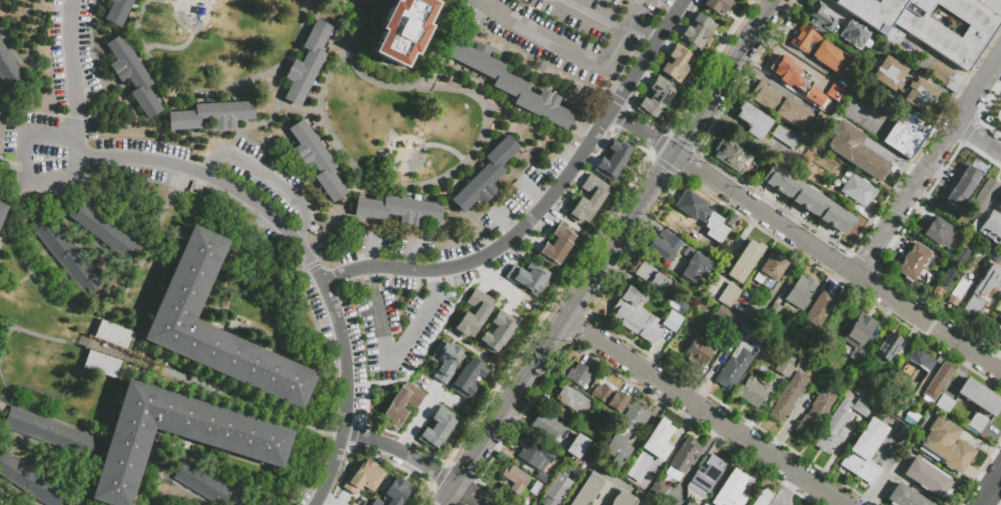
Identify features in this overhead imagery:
road: (458, 1)
road: (165, 2)
parking lot: (666, 2)
building: (716, 5)
building: (992, 6)
road: (631, 10)
building: (117, 11)
building: (871, 11)
road: (363, 16)
road: (590, 16)
building: (818, 16)
road: (623, 26)
building: (403, 29)
parking lot: (568, 30)
road: (642, 30)
building: (697, 31)
building: (926, 31)
building: (853, 34)
building: (893, 37)
parking lot: (802, 38)
road: (558, 43)
road: (90, 44)
road: (170, 47)
building: (817, 48)
road: (794, 49)
road: (787, 54)
parking lot: (834, 57)
road: (541, 59)
building: (677, 62)
road: (38, 65)
building: (304, 65)
building: (10, 68)
building: (933, 68)
road: (328, 74)
road: (73, 76)
building: (131, 76)
building: (796, 77)
parking lot: (820, 78)
road: (395, 81)
road: (182, 82)
building: (509, 82)
building: (954, 82)
building: (903, 84)
road: (278, 88)
building: (832, 91)
road: (979, 91)
building: (655, 97)
building: (780, 105)
road: (624, 109)
road: (0, 110)
building: (0, 113)
building: (822, 115)
building: (994, 115)
building: (208, 116)
road: (1, 119)
building: (753, 120)
road: (653, 122)
parking lot: (81, 124)
road: (640, 130)
road: (153, 133)
building: (905, 133)
building: (786, 137)
road: (1, 138)
road: (979, 140)
parking lot: (570, 143)
road: (445, 147)
road: (638, 147)
building: (855, 150)
building: (731, 153)
building: (314, 159)
building: (612, 161)
road: (26, 164)
building: (836, 172)
building: (972, 173)
building: (485, 175)
road: (272, 176)
parking lot: (263, 179)
road: (220, 180)
road: (422, 182)
building: (856, 188)
building: (831, 189)
building: (945, 190)
road: (9, 192)
road: (534, 193)
building: (984, 194)
building: (587, 199)
building: (808, 199)
parking lot: (513, 200)
road: (907, 200)
road: (544, 203)
road: (14, 205)
building: (999, 205)
road: (479, 207)
building: (694, 208)
building: (398, 209)
building: (2, 210)
road: (68, 213)
building: (954, 217)
road: (210, 218)
parking lot: (546, 220)
building: (733, 220)
building: (958, 221)
road: (506, 222)
building: (991, 227)
road: (81, 228)
road: (577, 228)
building: (936, 231)
building: (107, 232)
road: (611, 241)
parking lot: (391, 243)
building: (556, 245)
building: (663, 245)
parking lot: (318, 249)
parking lot: (458, 250)
road: (373, 251)
road: (584, 252)
building: (66, 253)
road: (411, 254)
parking lot: (508, 255)
parking lot: (347, 256)
road: (52, 259)
road: (836, 260)
building: (912, 260)
building: (744, 261)
building: (695, 267)
road: (497, 270)
building: (769, 270)
building: (951, 271)
parking lot: (302, 275)
building: (650, 276)
building: (528, 277)
building: (188, 278)
building: (928, 279)
road: (495, 282)
road: (16, 283)
road: (218, 286)
road: (299, 290)
building: (957, 291)
building: (800, 292)
building: (982, 292)
building: (728, 295)
road: (112, 302)
building: (676, 305)
building: (998, 306)
building: (818, 309)
building: (772, 310)
building: (634, 315)
building: (474, 316)
building: (727, 317)
parking lot: (392, 322)
building: (671, 322)
road: (93, 325)
road: (577, 327)
building: (997, 331)
building: (779, 332)
building: (497, 333)
building: (111, 334)
building: (858, 335)
road: (42, 336)
road: (4, 343)
building: (886, 345)
road: (468, 347)
building: (696, 353)
road: (344, 354)
building: (736, 357)
road: (395, 358)
building: (447, 362)
building: (101, 364)
road: (495, 365)
building: (916, 365)
road: (154, 366)
building: (782, 367)
road: (331, 374)
building: (577, 375)
building: (468, 380)
road: (199, 382)
building: (937, 382)
road: (5, 385)
building: (752, 391)
building: (868, 393)
road: (64, 395)
road: (319, 396)
building: (978, 396)
building: (609, 397)
building: (787, 397)
road: (366, 399)
road: (319, 401)
building: (571, 401)
building: (944, 403)
road: (306, 404)
building: (402, 407)
road: (421, 412)
building: (813, 414)
building: (910, 417)
road: (52, 419)
building: (923, 420)
road: (719, 421)
building: (977, 422)
building: (838, 423)
building: (546, 424)
road: (320, 426)
road: (329, 428)
building: (439, 430)
building: (49, 432)
building: (903, 433)
building: (624, 434)
building: (176, 436)
road: (404, 438)
building: (658, 439)
building: (945, 445)
road: (41, 446)
building: (577, 446)
road: (304, 447)
road: (400, 451)
building: (864, 451)
road: (151, 452)
road: (298, 453)
building: (535, 456)
building: (683, 457)
road: (392, 464)
road: (307, 466)
building: (639, 467)
road: (36, 469)
road: (332, 469)
building: (708, 473)
road: (159, 474)
road: (218, 475)
building: (926, 476)
building: (365, 479)
building: (516, 480)
building: (30, 481)
building: (208, 485)
building: (535, 487)
road: (185, 489)
building: (658, 489)
road: (990, 489)
building: (587, 490)
building: (730, 490)
building: (556, 491)
parking lot: (303, 492)
building: (398, 492)
road: (445, 494)
road: (468, 494)
road: (8, 495)
building: (904, 496)
building: (763, 497)
road: (329, 499)
building: (622, 499)
parking lot: (3, 500)
park: (648, 500)
road: (160, 502)
building: (377, 503)
building: (689, 503)
building: (704, 504)

